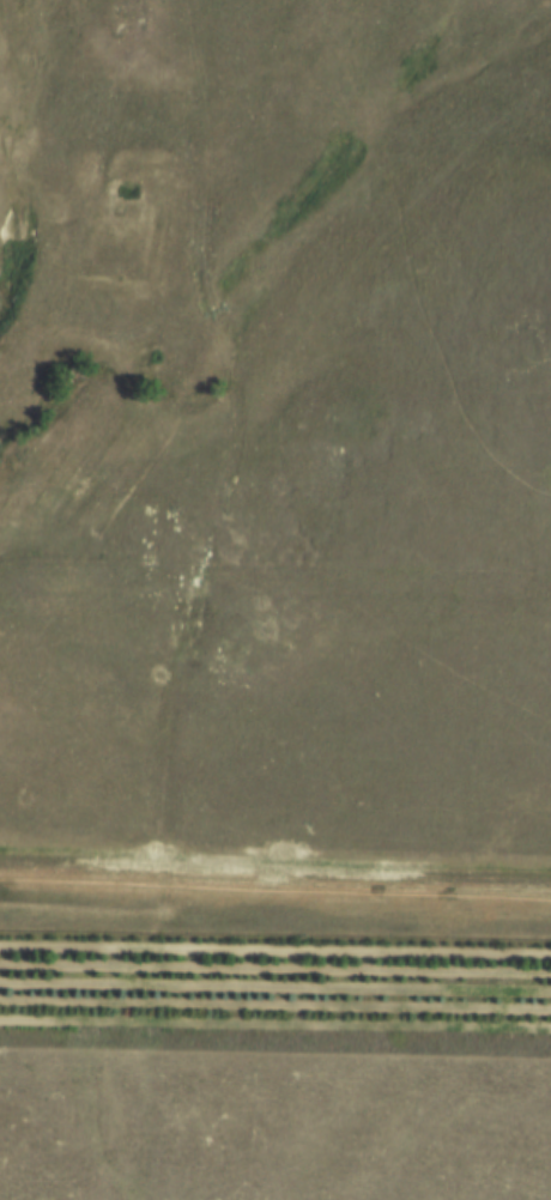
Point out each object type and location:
road: (274, 881)

